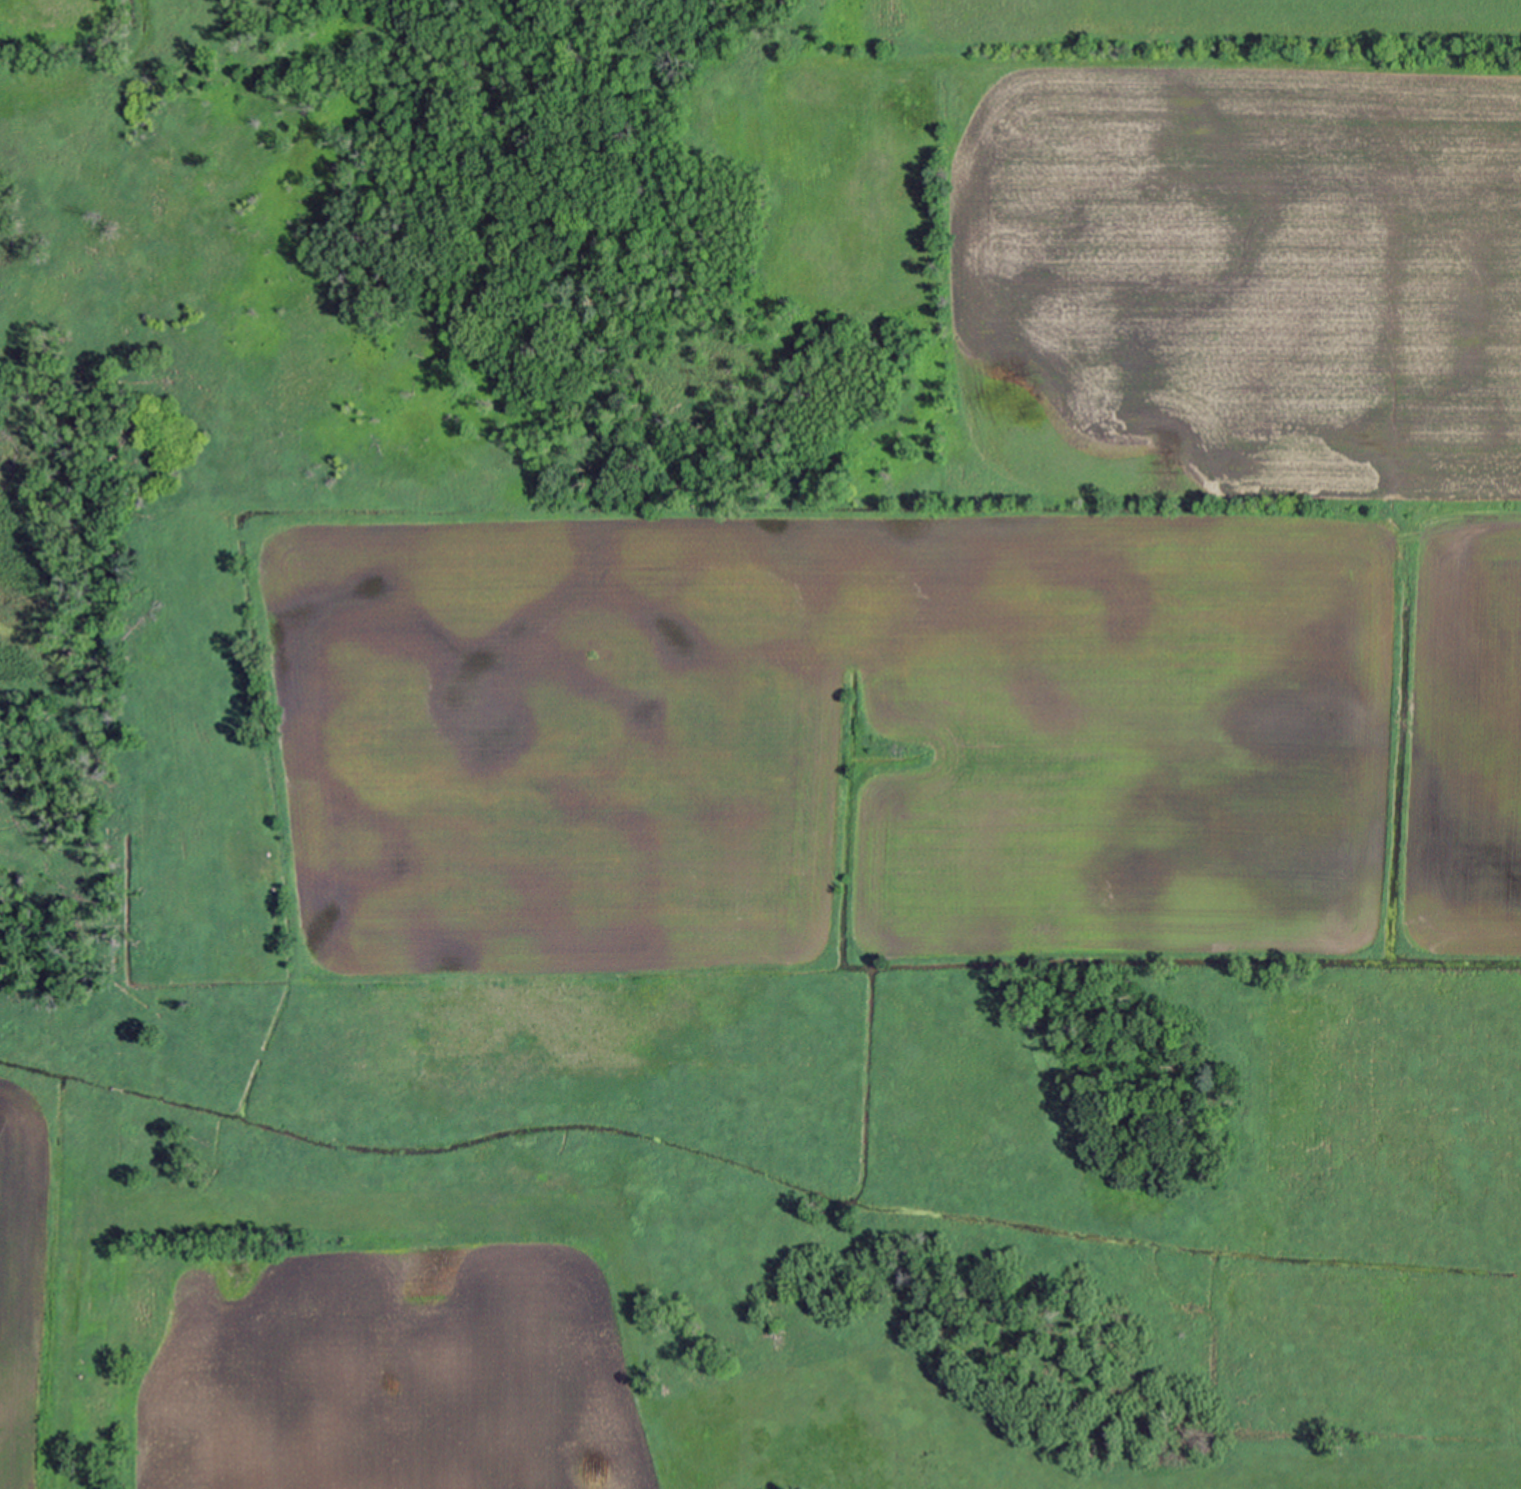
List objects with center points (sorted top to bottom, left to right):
building: (239, 535)
building: (116, 1089)

